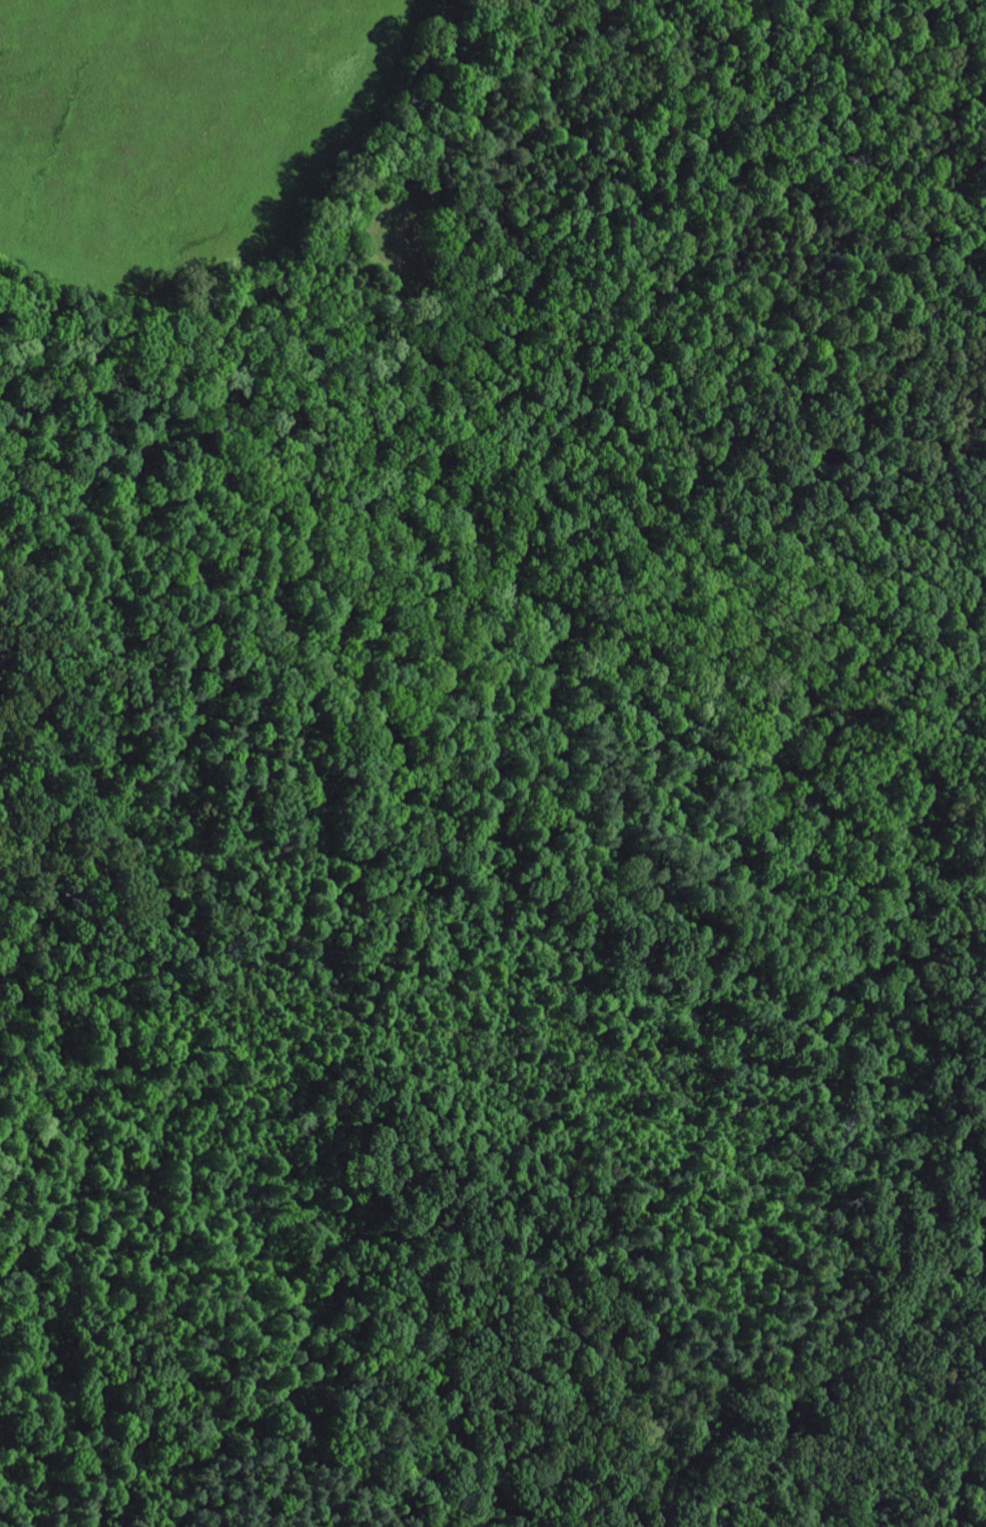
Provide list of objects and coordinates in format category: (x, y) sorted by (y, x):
road: (762, 1349)

